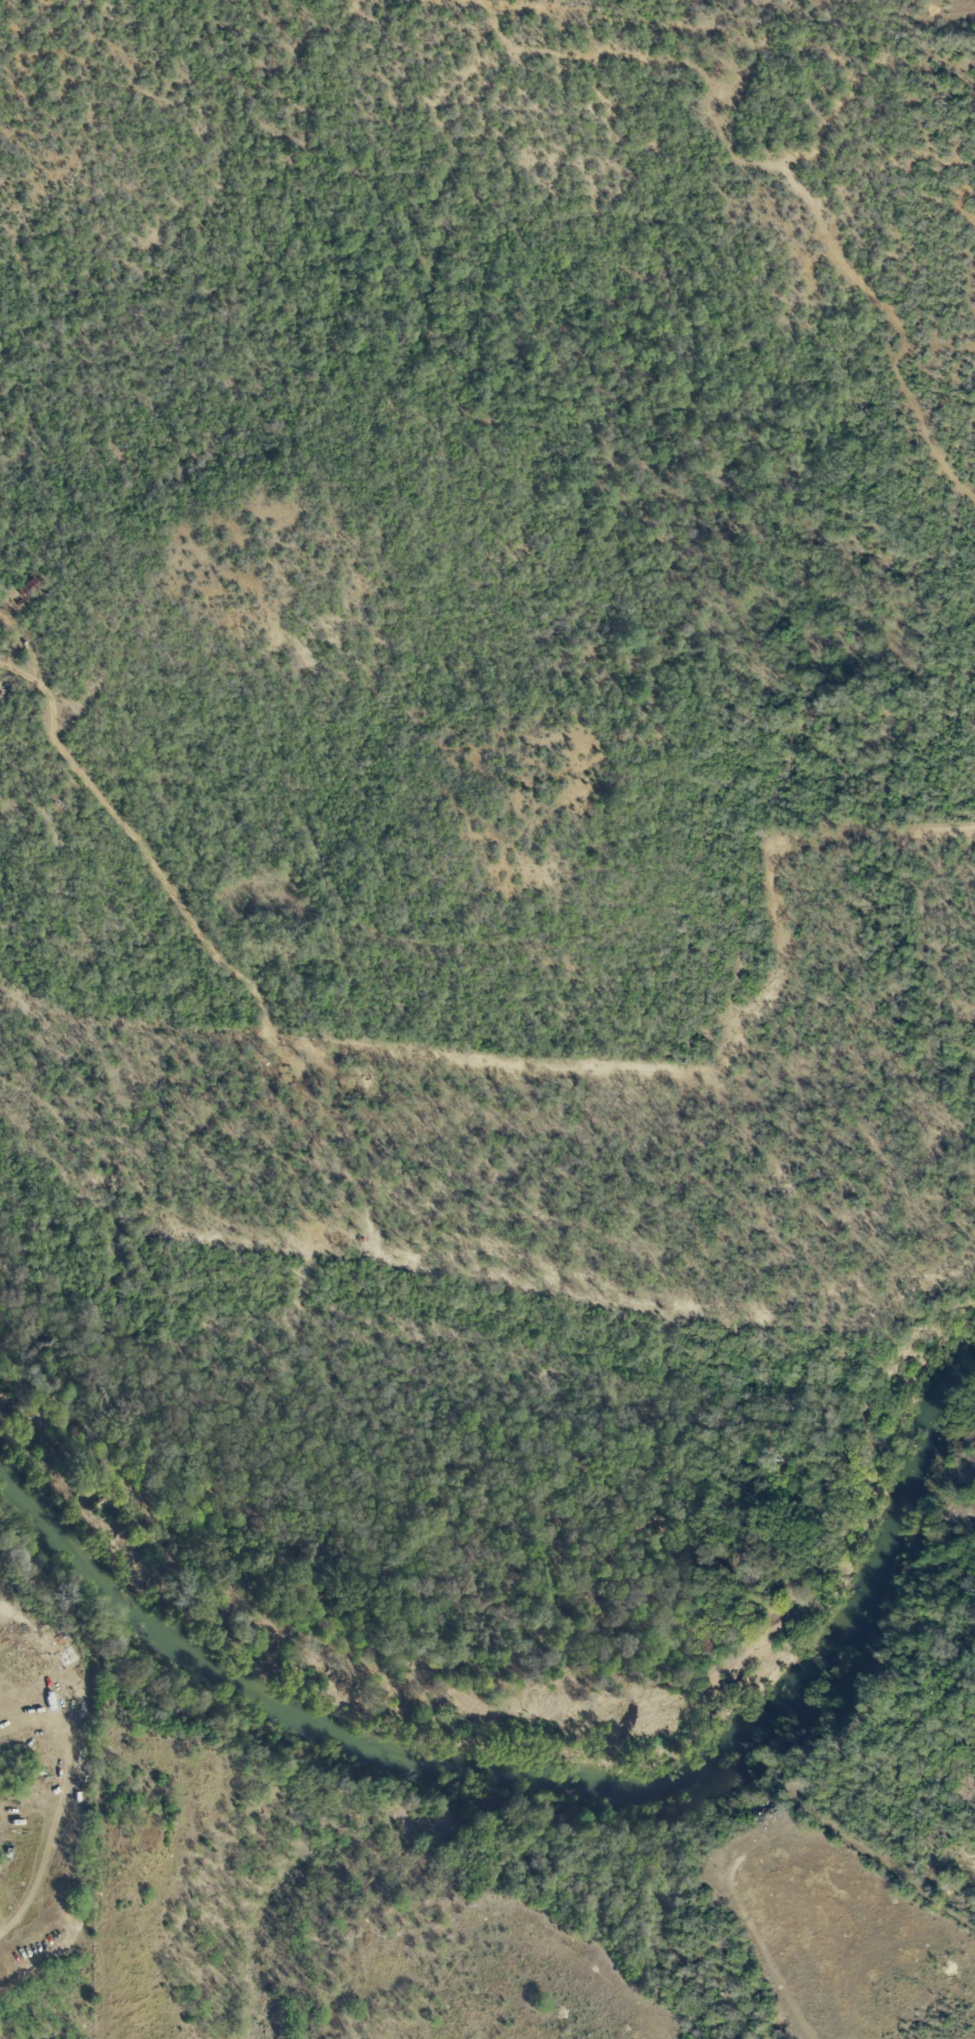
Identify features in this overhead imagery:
road: (35, 681)
river: (559, 1775)

